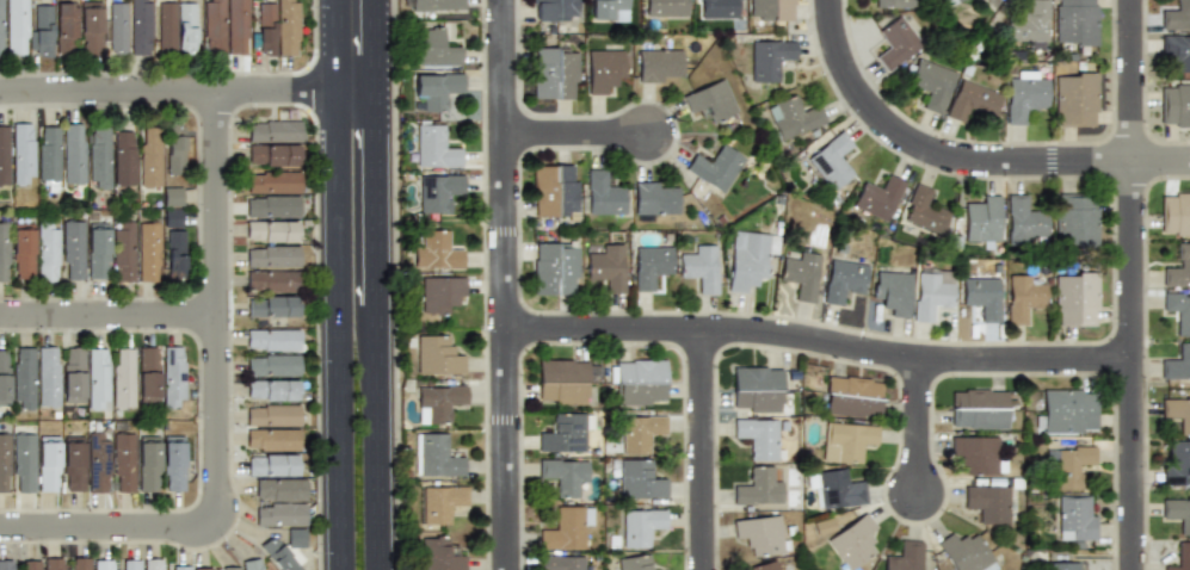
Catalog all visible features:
building: (951, 2)
building: (893, 4)
building: (433, 5)
street lamp: (314, 7)
building: (666, 7)
building: (717, 8)
building: (555, 10)
building: (608, 11)
building: (771, 11)
building: (1176, 14)
building: (1074, 23)
building: (1026, 25)
building: (117, 26)
building: (141, 26)
building: (166, 26)
building: (214, 26)
building: (236, 26)
building: (1, 27)
building: (17, 27)
building: (286, 27)
building: (66, 29)
building: (91, 29)
building: (186, 29)
building: (266, 29)
building: (43, 30)
building: (894, 43)
road: (354, 44)
building: (436, 47)
building: (1177, 50)
building: (769, 56)
building: (659, 62)
building: (604, 69)
street lamp: (106, 72)
building: (555, 73)
road: (1133, 80)
building: (930, 83)
building: (438, 89)
road: (177, 91)
building: (1024, 98)
building: (1075, 98)
building: (710, 100)
building: (972, 101)
building: (1174, 105)
street lamp: (254, 110)
building: (793, 116)
building: (273, 131)
road: (576, 134)
building: (436, 145)
building: (21, 153)
building: (73, 153)
building: (4, 154)
building: (174, 154)
building: (272, 155)
building: (48, 156)
building: (98, 156)
building: (124, 156)
building: (149, 156)
road: (963, 160)
building: (832, 161)
building: (715, 166)
street lamp: (314, 168)
building: (273, 182)
building: (555, 190)
building: (439, 192)
building: (604, 192)
building: (877, 196)
building: (172, 197)
building: (656, 197)
building: (272, 205)
building: (924, 209)
street lamp: (199, 213)
building: (1176, 213)
building: (171, 217)
building: (982, 217)
building: (1024, 218)
building: (1075, 219)
building: (271, 230)
building: (73, 249)
building: (97, 249)
building: (437, 249)
building: (4, 250)
building: (48, 250)
building: (123, 250)
building: (148, 250)
building: (23, 252)
building: (174, 254)
building: (272, 255)
building: (750, 258)
building: (651, 266)
building: (555, 267)
building: (606, 267)
building: (1179, 267)
building: (699, 268)
building: (801, 275)
building: (271, 280)
building: (844, 280)
road: (505, 285)
building: (893, 291)
building: (440, 292)
building: (933, 293)
street lamp: (140, 297)
building: (982, 297)
building: (1023, 297)
building: (1075, 298)
building: (271, 306)
road: (218, 308)
building: (1178, 310)
road: (109, 315)
road: (389, 327)
street lamp: (238, 328)
road: (327, 328)
street lamp: (41, 335)
building: (272, 340)
road: (819, 340)
building: (438, 355)
building: (1177, 361)
street lamp: (316, 363)
building: (272, 365)
road: (1133, 365)
building: (73, 374)
building: (148, 374)
building: (48, 376)
building: (172, 376)
building: (4, 377)
building: (24, 377)
building: (123, 377)
building: (97, 378)
building: (639, 380)
building: (562, 382)
building: (271, 389)
building: (757, 389)
building: (852, 397)
building: (439, 402)
building: (978, 409)
building: (1066, 410)
building: (1177, 413)
building: (271, 415)
street lamp: (199, 417)
road: (920, 427)
building: (641, 432)
building: (563, 433)
building: (758, 438)
building: (272, 439)
building: (846, 441)
road: (704, 450)
building: (975, 454)
building: (437, 456)
building: (98, 461)
building: (4, 463)
building: (23, 463)
building: (123, 463)
building: (173, 463)
building: (48, 464)
building: (73, 464)
building: (272, 464)
building: (1176, 464)
building: (1072, 465)
building: (148, 466)
building: (565, 475)
building: (640, 479)
building: (757, 487)
building: (836, 488)
building: (280, 489)
building: (987, 503)
building: (440, 504)
street lamp: (39, 509)
building: (1177, 514)
building: (1077, 519)
building: (284, 520)
road: (106, 527)
building: (566, 527)
building: (641, 527)
building: (762, 534)
building: (853, 540)
street lamp: (227, 544)
building: (966, 552)
street lamp: (319, 553)
building: (440, 553)
building: (904, 556)
building: (1182, 556)
building: (282, 559)
building: (561, 563)
building: (637, 563)
building: (7, 564)
building: (29, 564)
building: (54, 564)
building: (79, 564)
building: (104, 564)
building: (129, 564)
building: (153, 564)
building: (1063, 565)
building: (254, 566)
building: (764, 566)
building: (179, 568)
building: (228, 568)
building: (203, 569)

